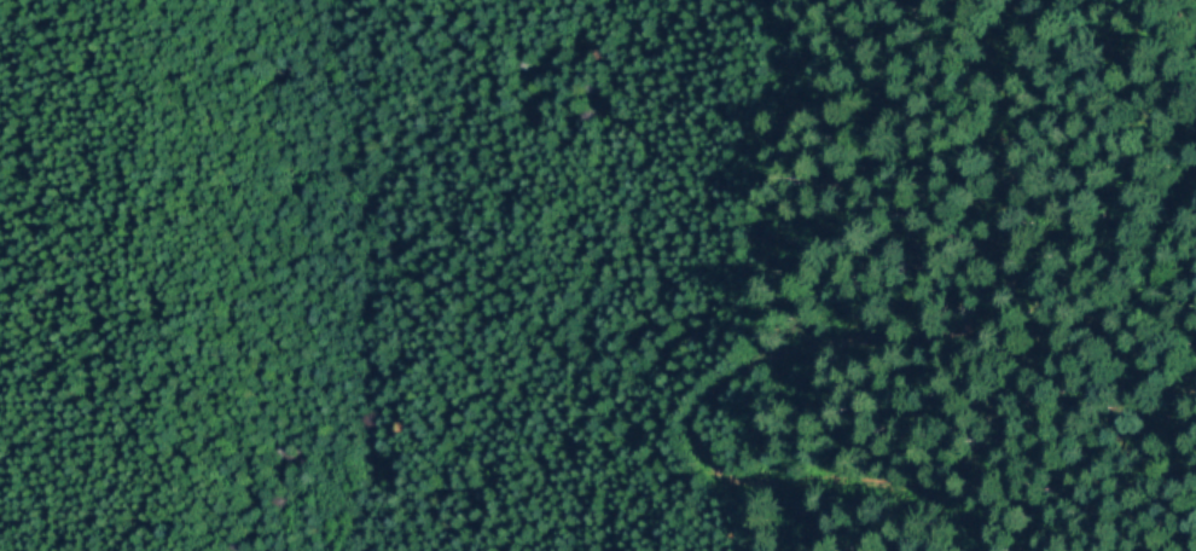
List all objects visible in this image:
road: (707, 349)

